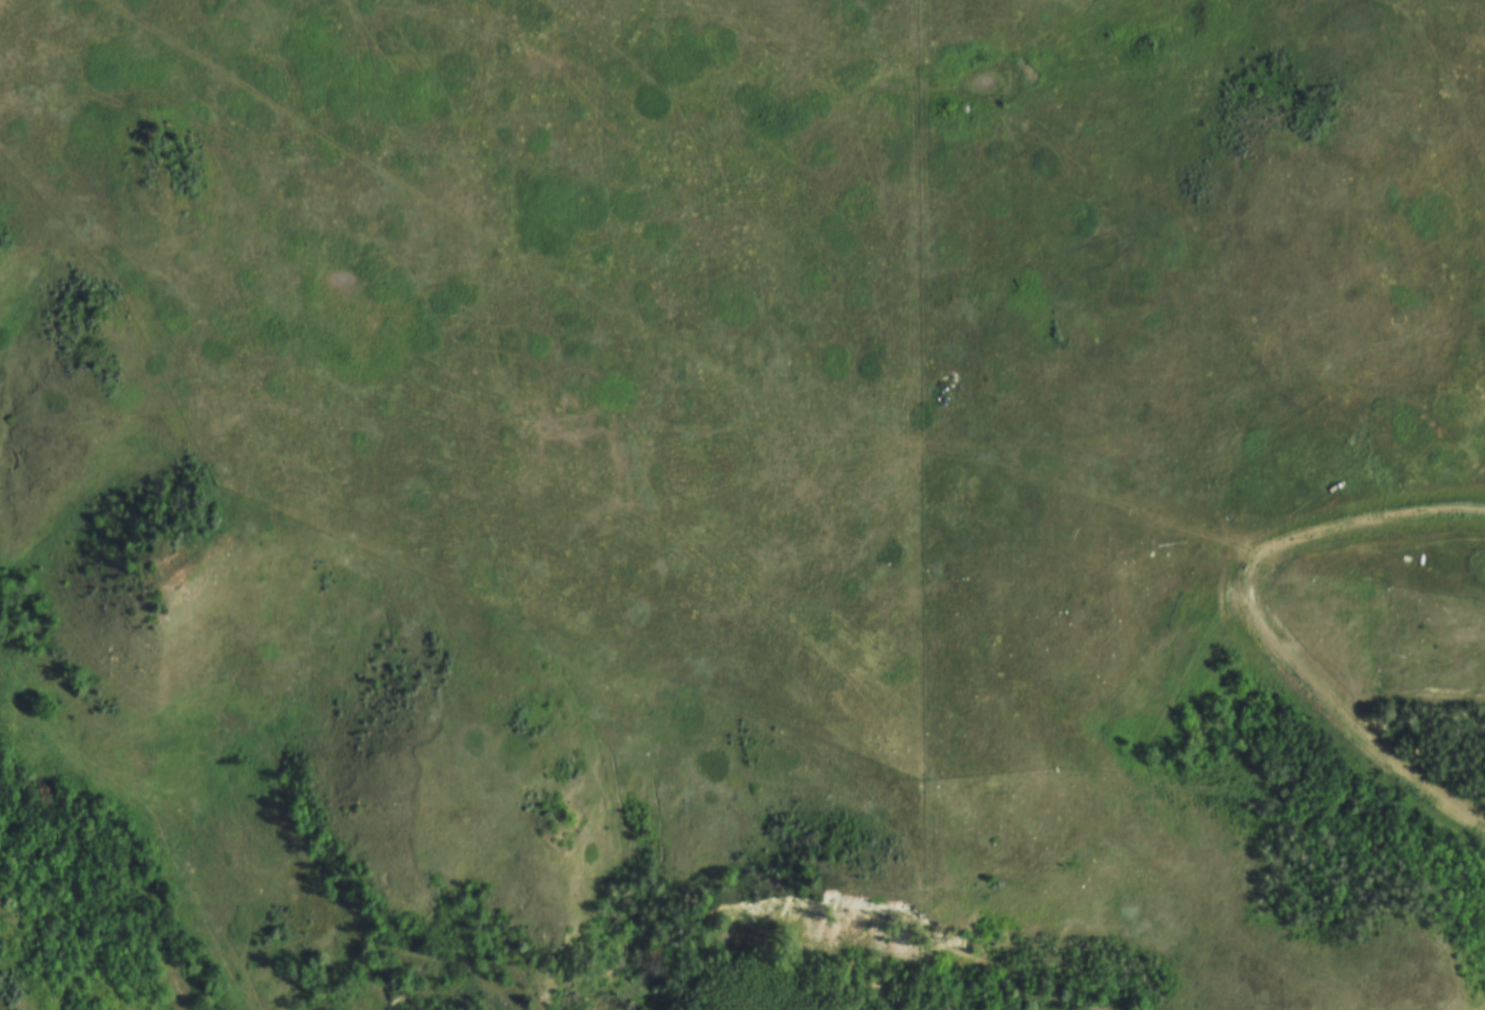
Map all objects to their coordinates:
road: (1271, 634)

